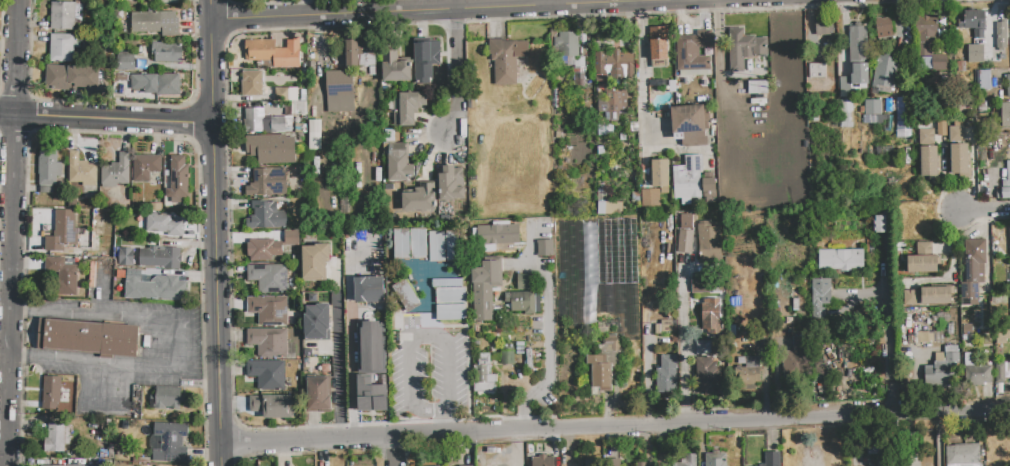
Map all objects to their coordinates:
building: (148, 0)
building: (161, 1)
road: (554, 3)
road: (458, 11)
building: (63, 15)
building: (973, 19)
building: (152, 23)
building: (883, 25)
building: (825, 26)
building: (927, 34)
building: (978, 34)
building: (1001, 34)
building: (658, 43)
building: (566, 44)
building: (61, 47)
building: (744, 48)
building: (260, 50)
building: (694, 51)
building: (858, 51)
building: (165, 52)
building: (974, 53)
building: (358, 54)
building: (506, 59)
building: (424, 60)
building: (125, 62)
building: (926, 63)
building: (965, 66)
building: (395, 67)
building: (816, 70)
road: (460, 72)
building: (886, 72)
building: (854, 76)
building: (71, 77)
building: (121, 78)
road: (642, 78)
building: (983, 80)
building: (339, 82)
building: (157, 84)
building: (252, 84)
building: (606, 84)
building: (1008, 85)
building: (758, 86)
building: (121, 89)
building: (288, 94)
building: (340, 103)
building: (982, 107)
building: (299, 108)
building: (407, 108)
building: (872, 112)
building: (846, 113)
building: (1005, 115)
building: (903, 117)
road: (107, 119)
building: (262, 122)
building: (689, 124)
building: (940, 127)
building: (300, 129)
building: (314, 134)
building: (956, 134)
building: (926, 137)
building: (272, 149)
building: (959, 159)
building: (929, 161)
building: (49, 165)
building: (146, 166)
building: (399, 166)
building: (80, 169)
building: (117, 171)
building: (660, 174)
building: (179, 179)
building: (688, 179)
building: (267, 182)
building: (451, 183)
building: (1006, 183)
building: (709, 187)
building: (420, 198)
building: (651, 199)
building: (154, 207)
building: (609, 207)
road: (984, 210)
building: (267, 215)
building: (880, 222)
building: (163, 225)
road: (14, 232)
building: (62, 232)
building: (1009, 232)
road: (217, 233)
building: (498, 234)
building: (685, 234)
building: (709, 237)
building: (400, 245)
building: (418, 245)
building: (272, 246)
building: (454, 247)
building: (545, 248)
building: (436, 249)
building: (597, 252)
building: (125, 256)
building: (160, 257)
building: (841, 259)
building: (923, 259)
building: (315, 261)
building: (973, 271)
building: (62, 275)
building: (269, 277)
building: (526, 282)
building: (707, 284)
building: (153, 287)
building: (485, 287)
building: (369, 289)
building: (451, 291)
building: (937, 294)
building: (821, 296)
building: (405, 297)
building: (911, 297)
building: (525, 302)
building: (268, 310)
building: (709, 313)
building: (453, 314)
building: (966, 321)
building: (317, 322)
building: (607, 326)
building: (985, 326)
building: (950, 329)
building: (89, 337)
building: (927, 337)
road: (416, 339)
building: (268, 342)
building: (613, 342)
road: (683, 342)
building: (372, 347)
building: (703, 347)
road: (184, 349)
road: (886, 350)
road: (550, 352)
road: (337, 355)
building: (798, 356)
building: (505, 357)
building: (969, 359)
building: (942, 369)
building: (267, 373)
building: (484, 373)
building: (1000, 373)
building: (600, 374)
building: (667, 374)
parking lot: (431, 375)
building: (979, 375)
building: (706, 376)
building: (748, 376)
road: (88, 386)
building: (51, 392)
building: (317, 393)
building: (372, 394)
building: (168, 397)
building: (272, 406)
road: (615, 428)
building: (57, 438)
road: (937, 439)
building: (170, 442)
road: (397, 452)
building: (882, 452)
building: (963, 455)
building: (825, 457)
building: (716, 458)
building: (771, 459)
building: (542, 461)
building: (686, 461)
building: (614, 462)
building: (571, 464)
building: (641, 464)
building: (54, 465)
building: (438, 465)
building: (468, 465)

